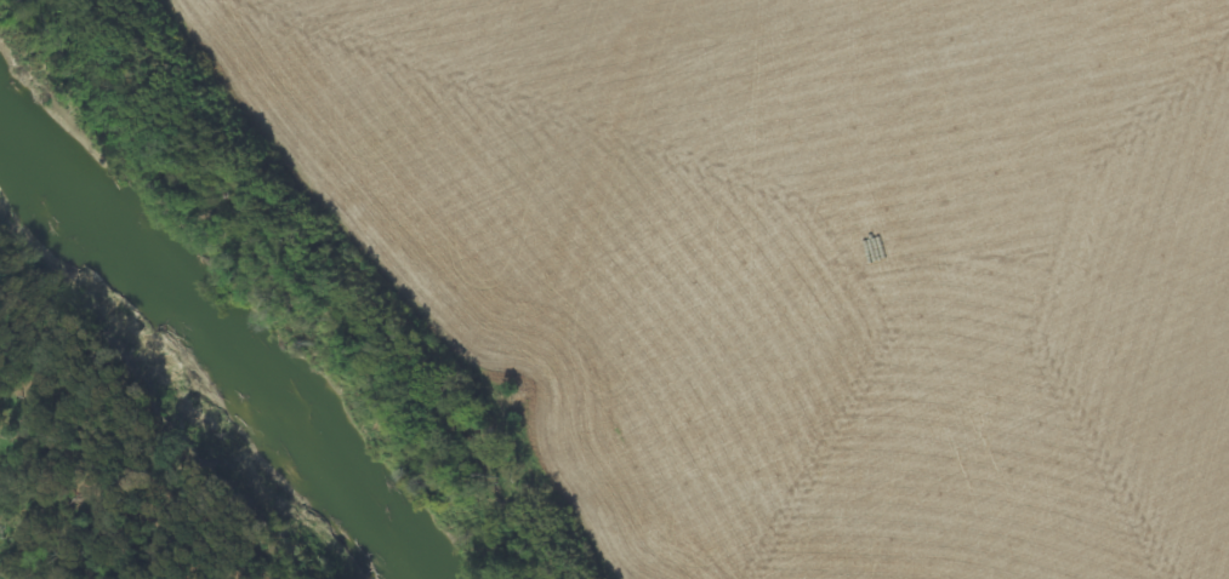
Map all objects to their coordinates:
river: (206, 338)

